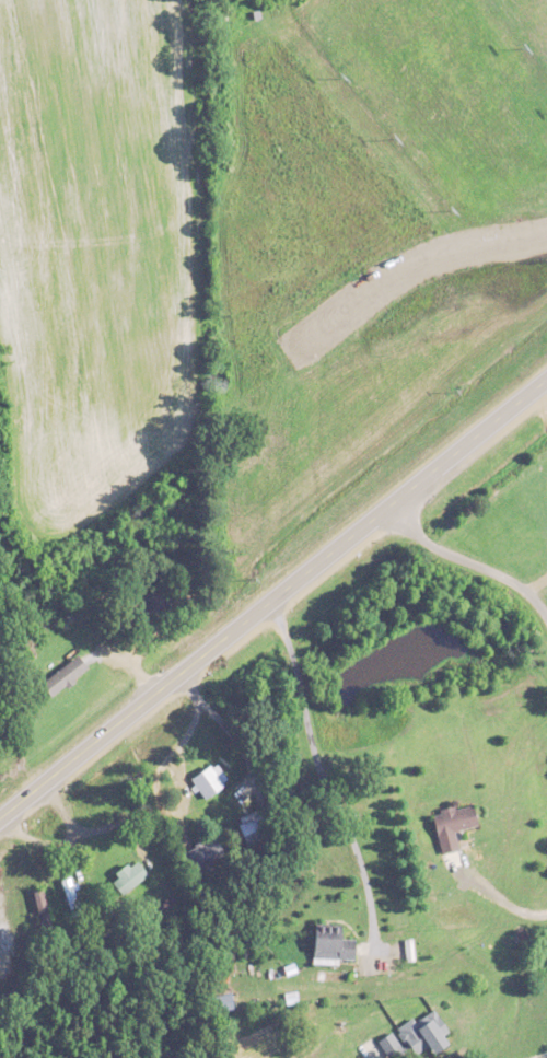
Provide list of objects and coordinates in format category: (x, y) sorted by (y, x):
park: (371, 167)
road: (537, 406)
road: (468, 561)
road: (534, 583)
road: (272, 594)
building: (154, 600)
building: (65, 675)
road: (321, 775)
building: (209, 780)
building: (453, 825)
building: (254, 828)
building: (203, 852)
building: (129, 876)
road: (489, 895)
building: (70, 896)
building: (42, 909)
building: (333, 943)
road: (364, 1049)
road: (539, 1055)

